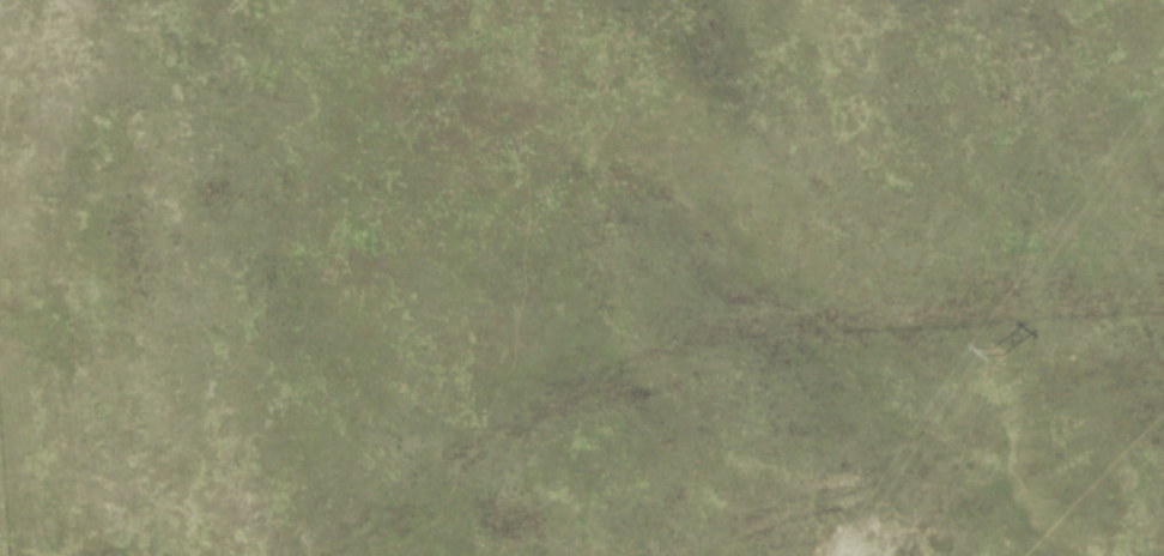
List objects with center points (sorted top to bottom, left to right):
power tower: (1004, 349)

